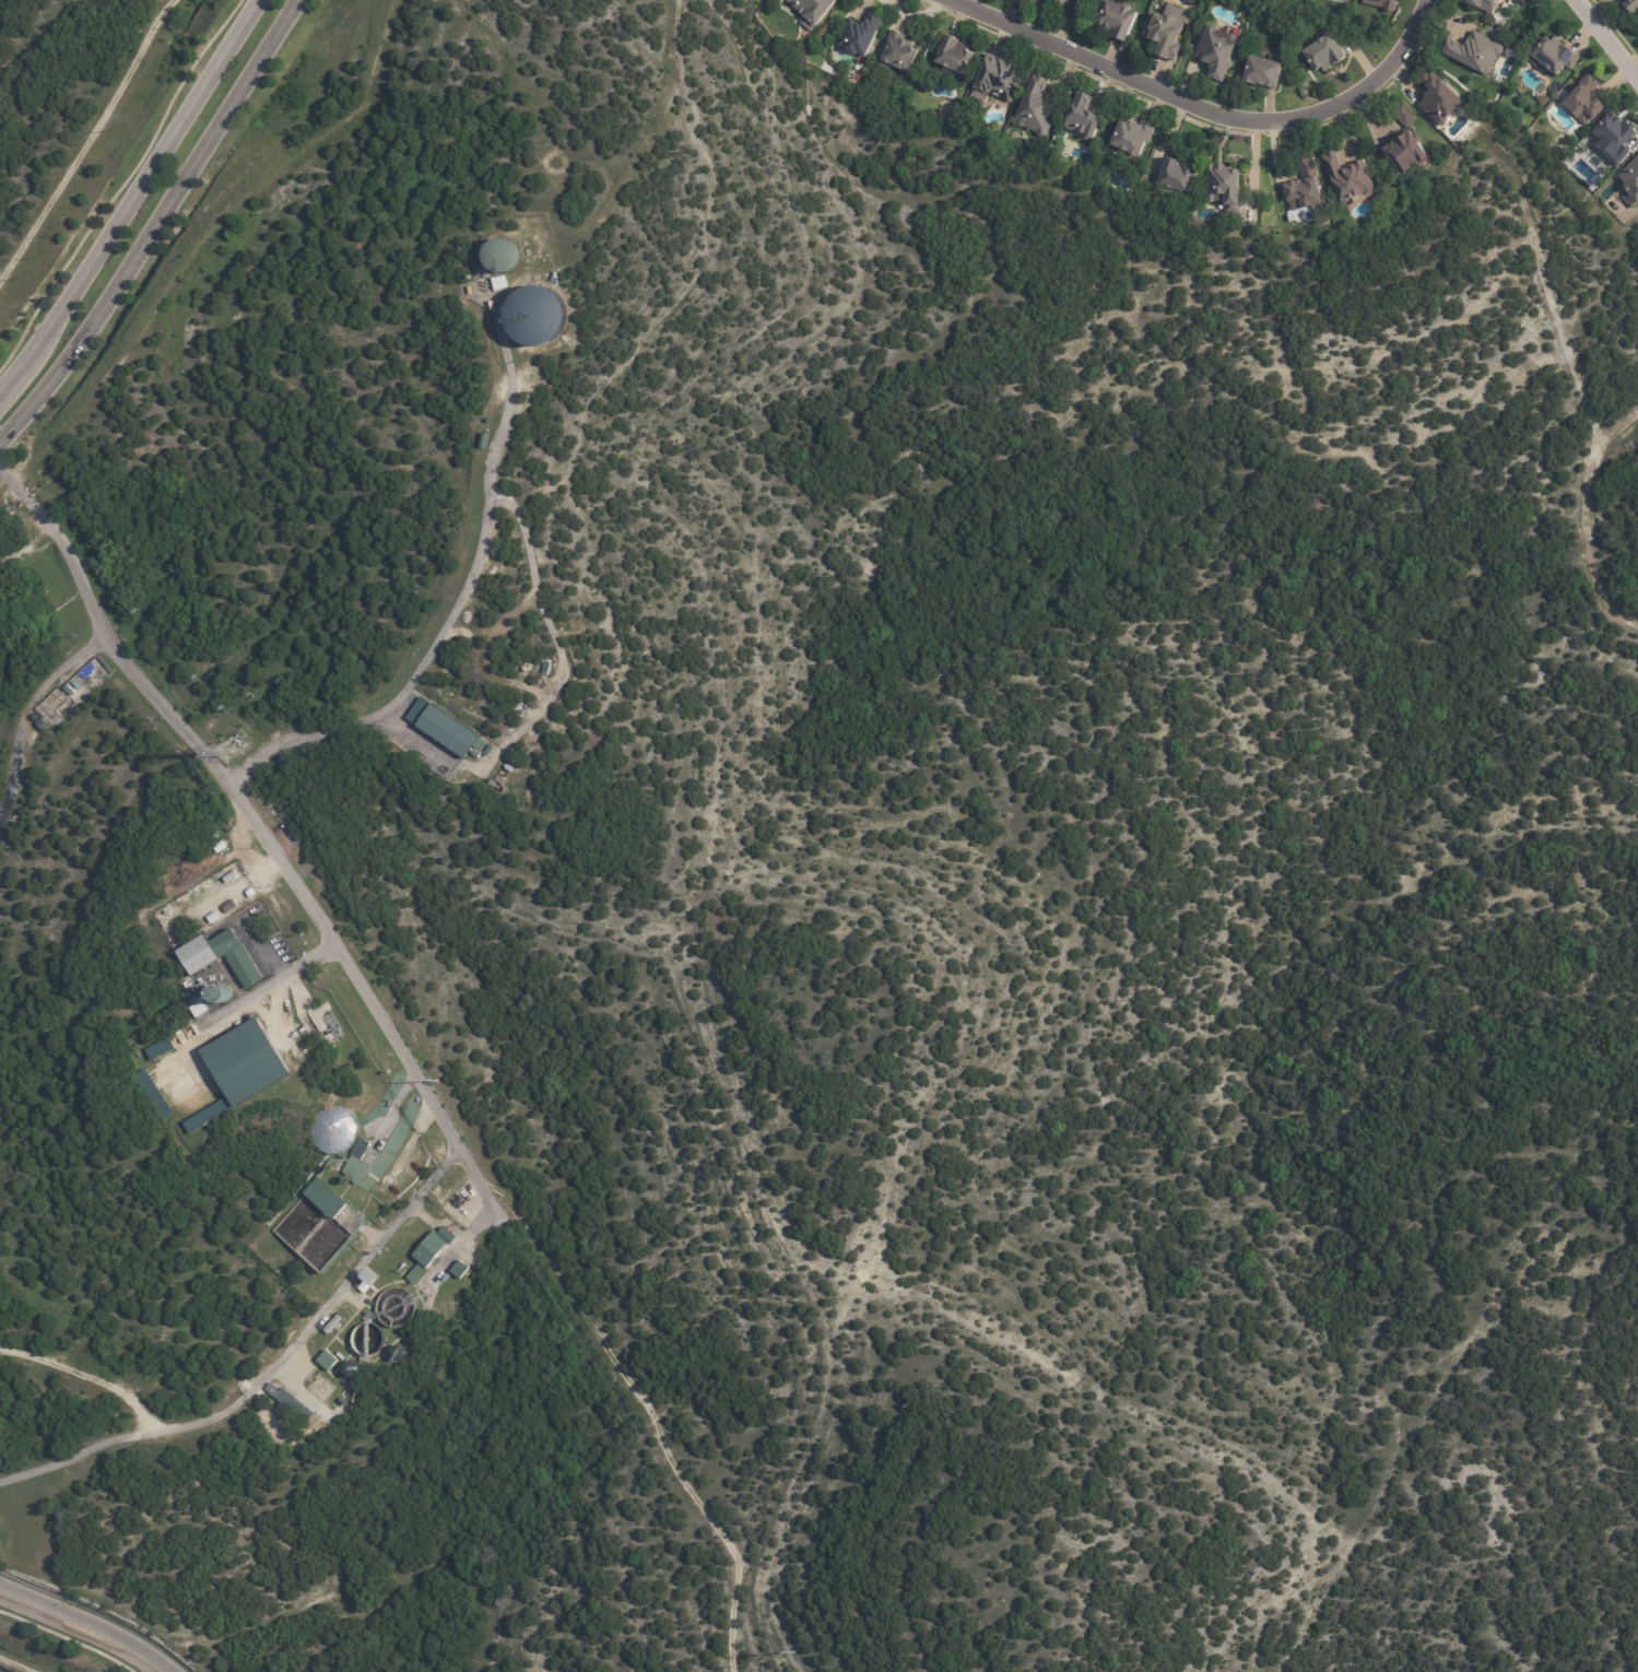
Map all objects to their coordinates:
building: (1093, 0)
building: (1522, 1)
building: (1060, 3)
building: (1382, 3)
building: (1478, 3)
building: (1630, 5)
building: (815, 11)
road: (912, 13)
building: (1119, 19)
building: (1637, 28)
building: (1170, 30)
building: (863, 35)
road: (1604, 43)
building: (1223, 50)
building: (903, 52)
building: (1472, 52)
building: (1553, 54)
building: (956, 55)
building: (1325, 55)
building: (1266, 72)
building: (1001, 78)
building: (1442, 99)
building: (1583, 99)
building: (1038, 107)
road: (1201, 111)
building: (1409, 111)
building: (1083, 117)
building: (1406, 118)
building: (1615, 130)
building: (1134, 136)
building: (1410, 155)
building: (1181, 175)
building: (1351, 179)
building: (1630, 182)
building: (1232, 186)
building: (1307, 189)
road: (133, 195)
road: (158, 228)
building: (500, 256)
building: (500, 284)
building: (535, 316)
road: (1586, 520)
road: (439, 634)
building: (70, 690)
road: (28, 711)
building: (44, 725)
building: (453, 735)
power tower: (228, 750)
road: (258, 832)
building: (209, 843)
building: (221, 848)
building: (232, 878)
building: (252, 893)
building: (232, 907)
building: (214, 918)
building: (222, 956)
building: (200, 1010)
building: (333, 1026)
building: (158, 1049)
building: (248, 1062)
power tower: (435, 1082)
building: (152, 1094)
building: (332, 1131)
building: (385, 1157)
building: (357, 1180)
building: (432, 1255)
building: (461, 1270)
building: (363, 1286)
road: (318, 1315)
building: (334, 1324)
building: (328, 1361)
road: (85, 1376)
building: (346, 1404)
building: (294, 1408)
road: (75, 1457)
road: (73, 1632)
power tower: (792, 1655)

